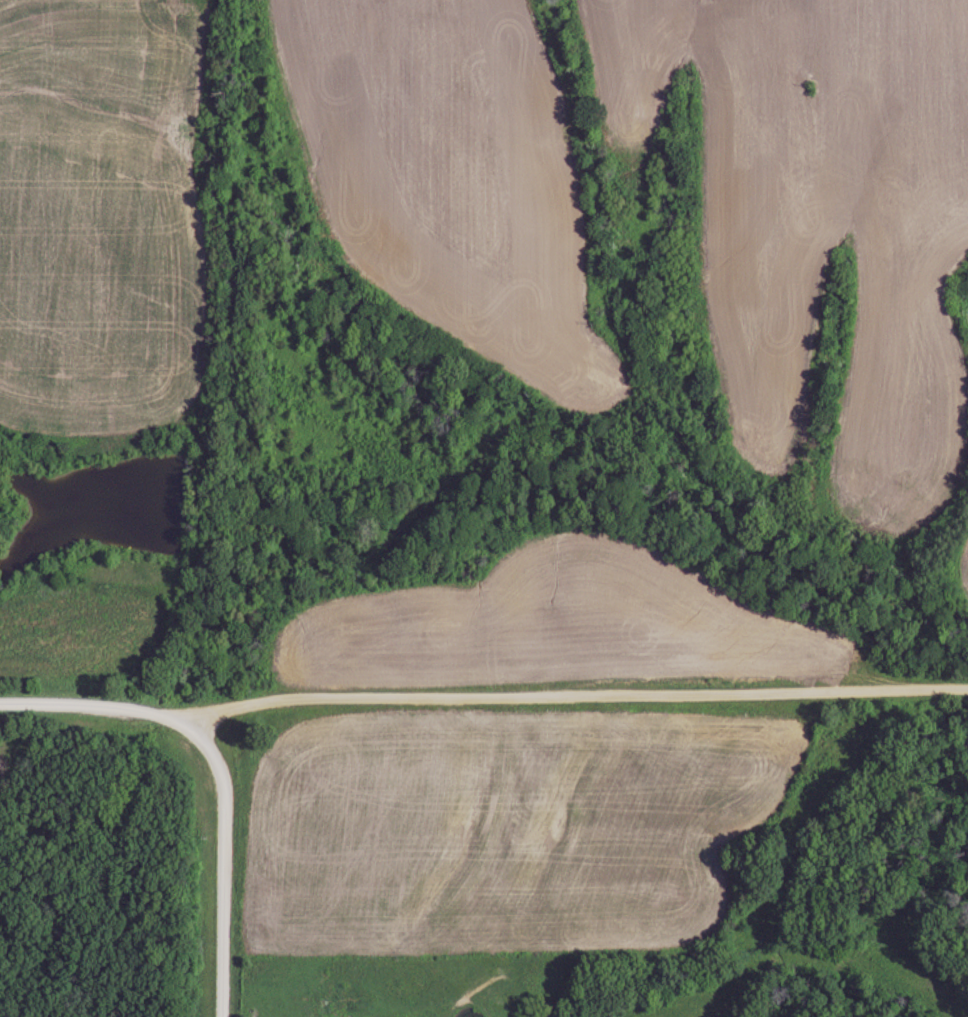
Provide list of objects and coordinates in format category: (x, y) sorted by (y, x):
road: (482, 700)
road: (225, 863)

